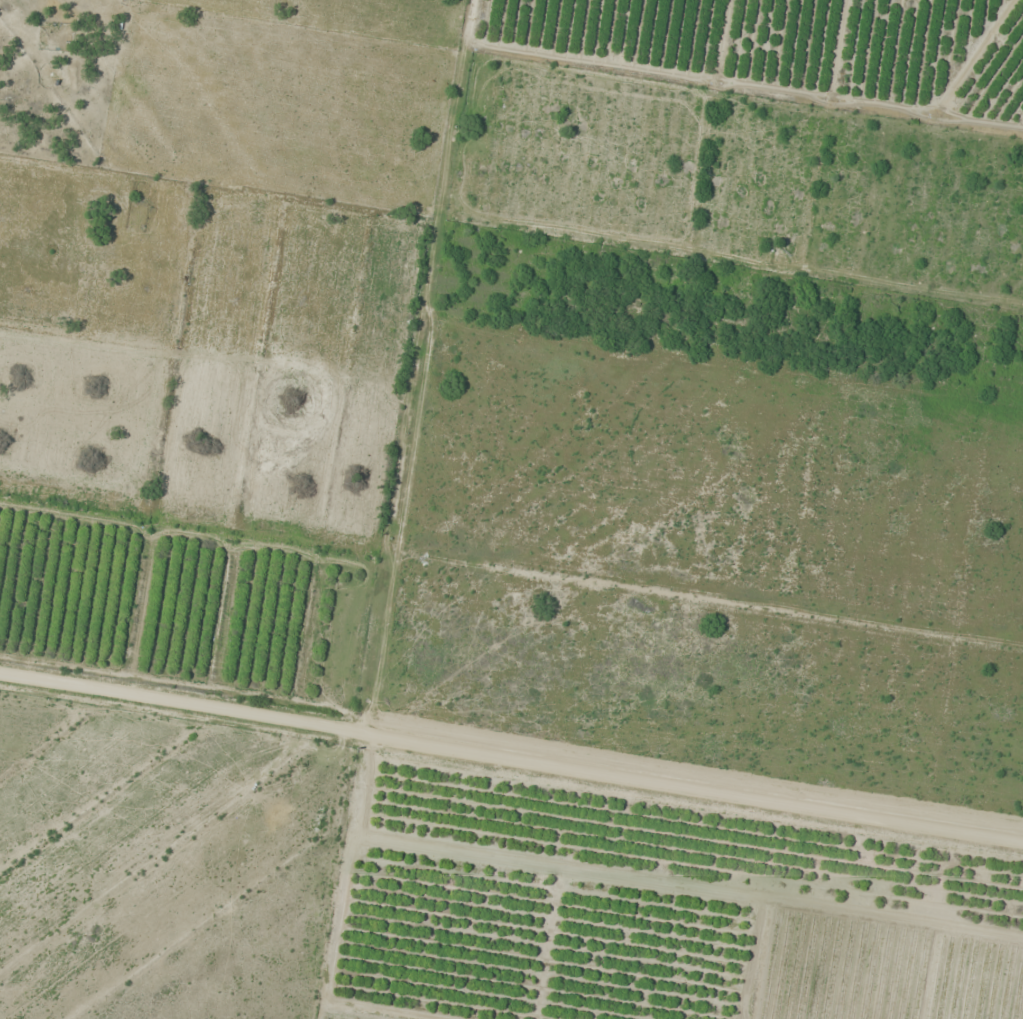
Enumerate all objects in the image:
road: (511, 763)

